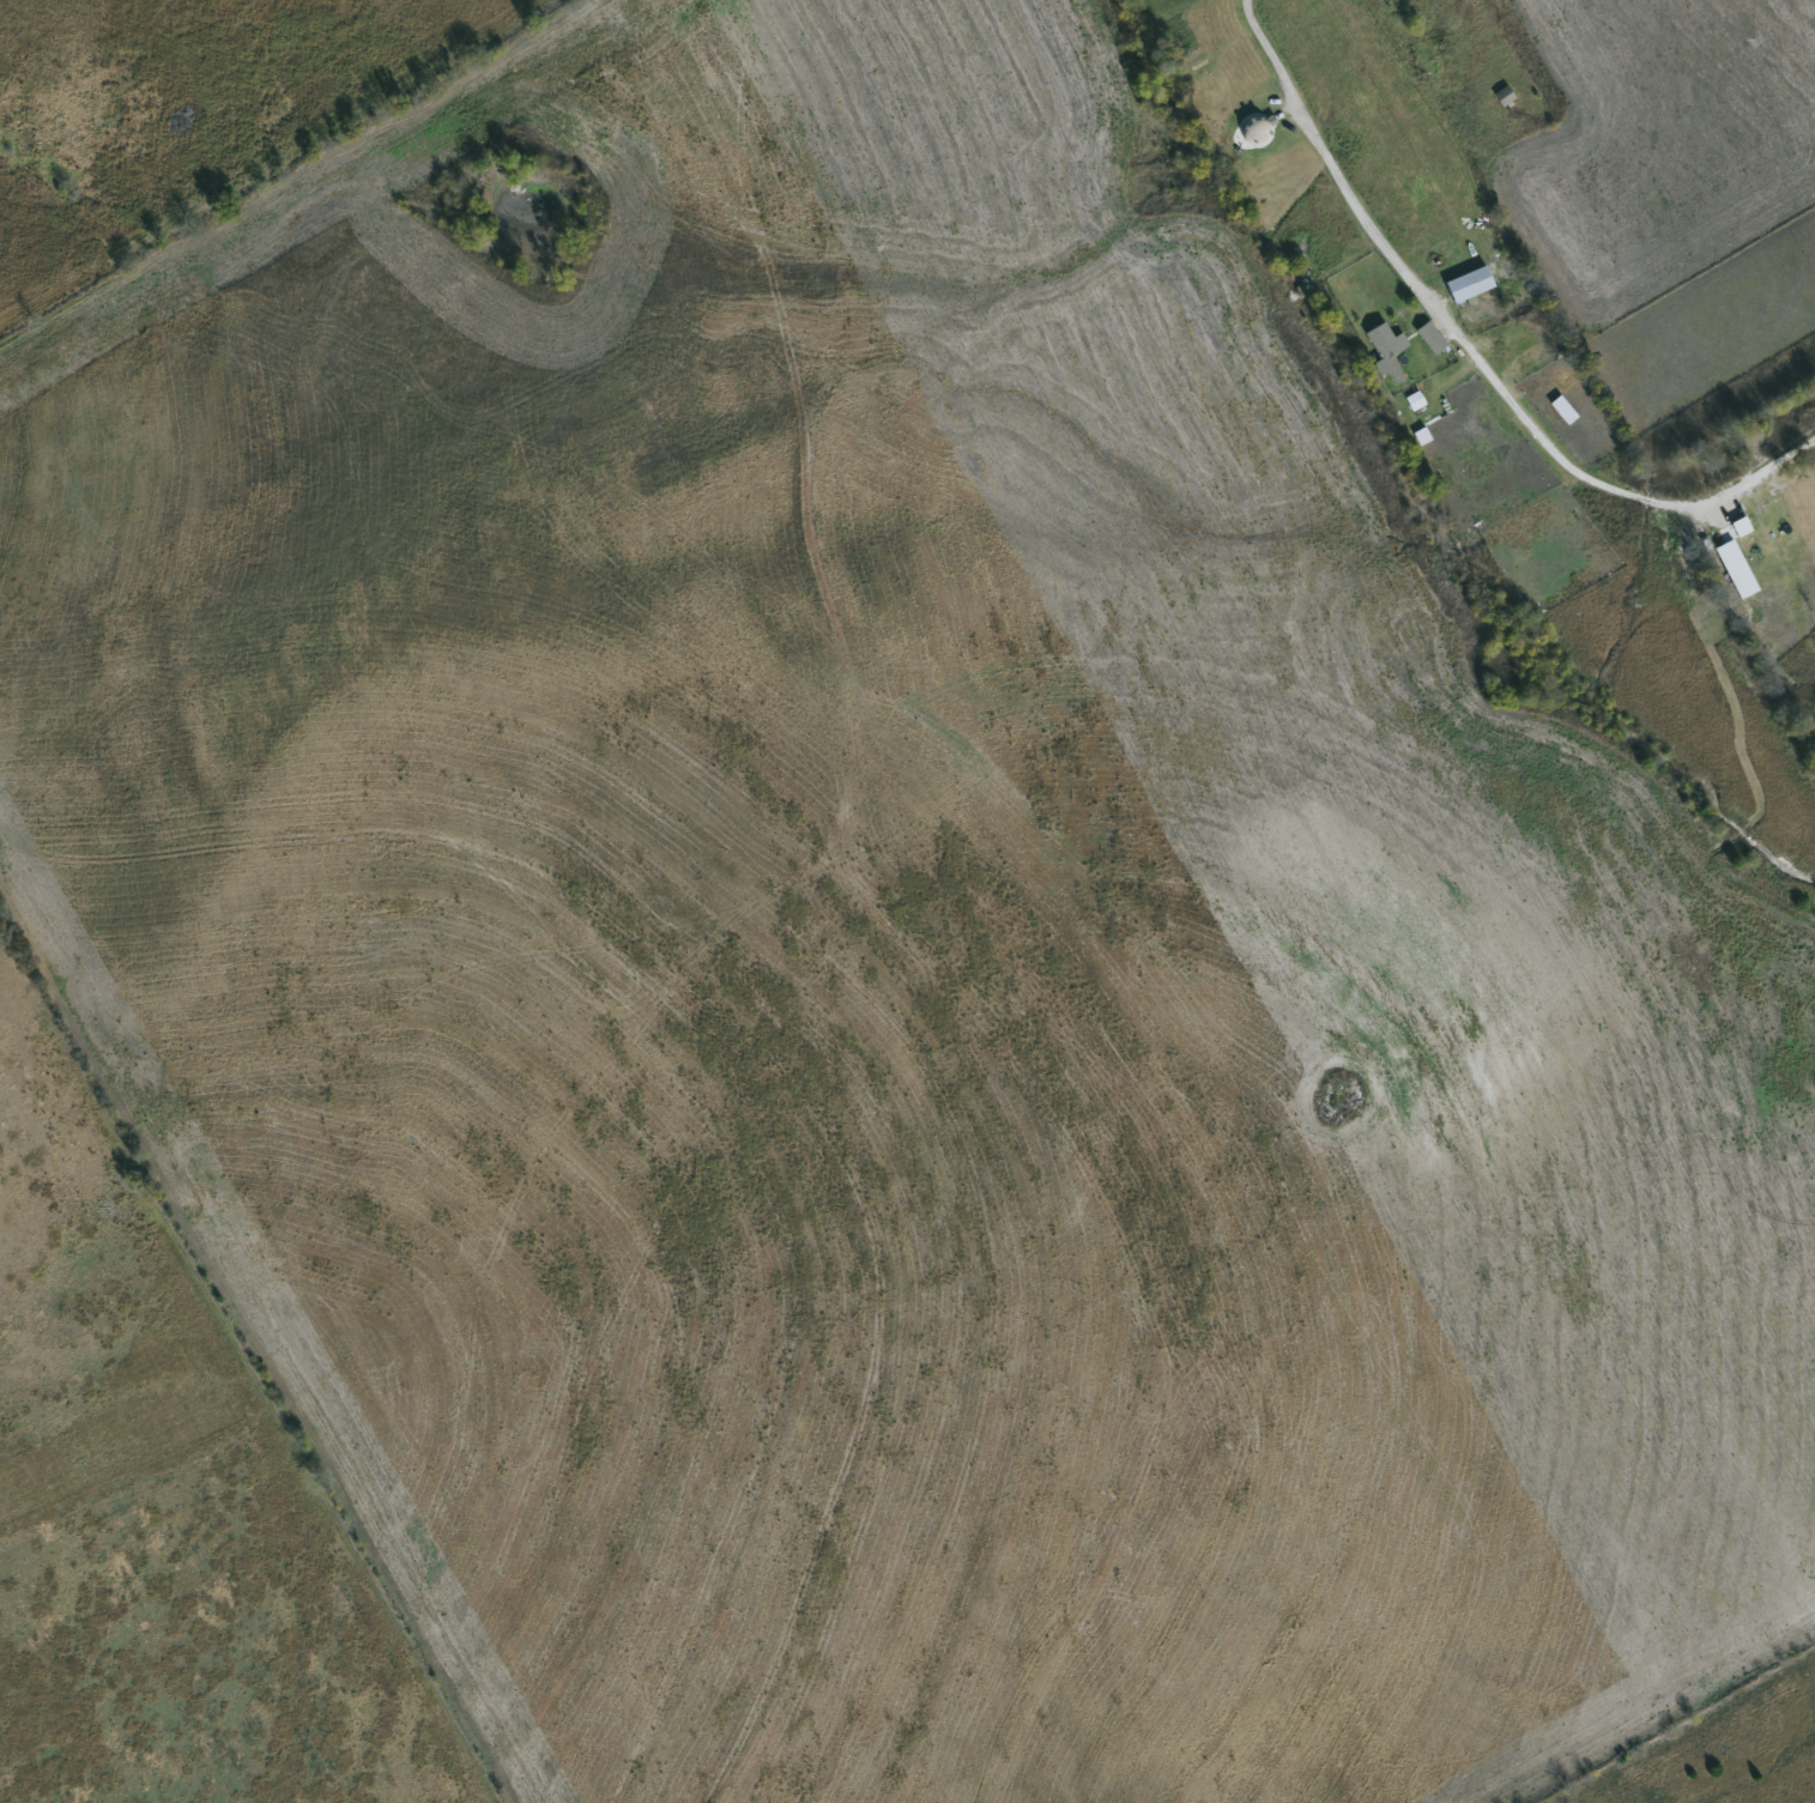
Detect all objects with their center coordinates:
building: (1502, 92)
building: (1252, 128)
road: (1338, 162)
building: (1466, 282)
road: (1602, 479)

